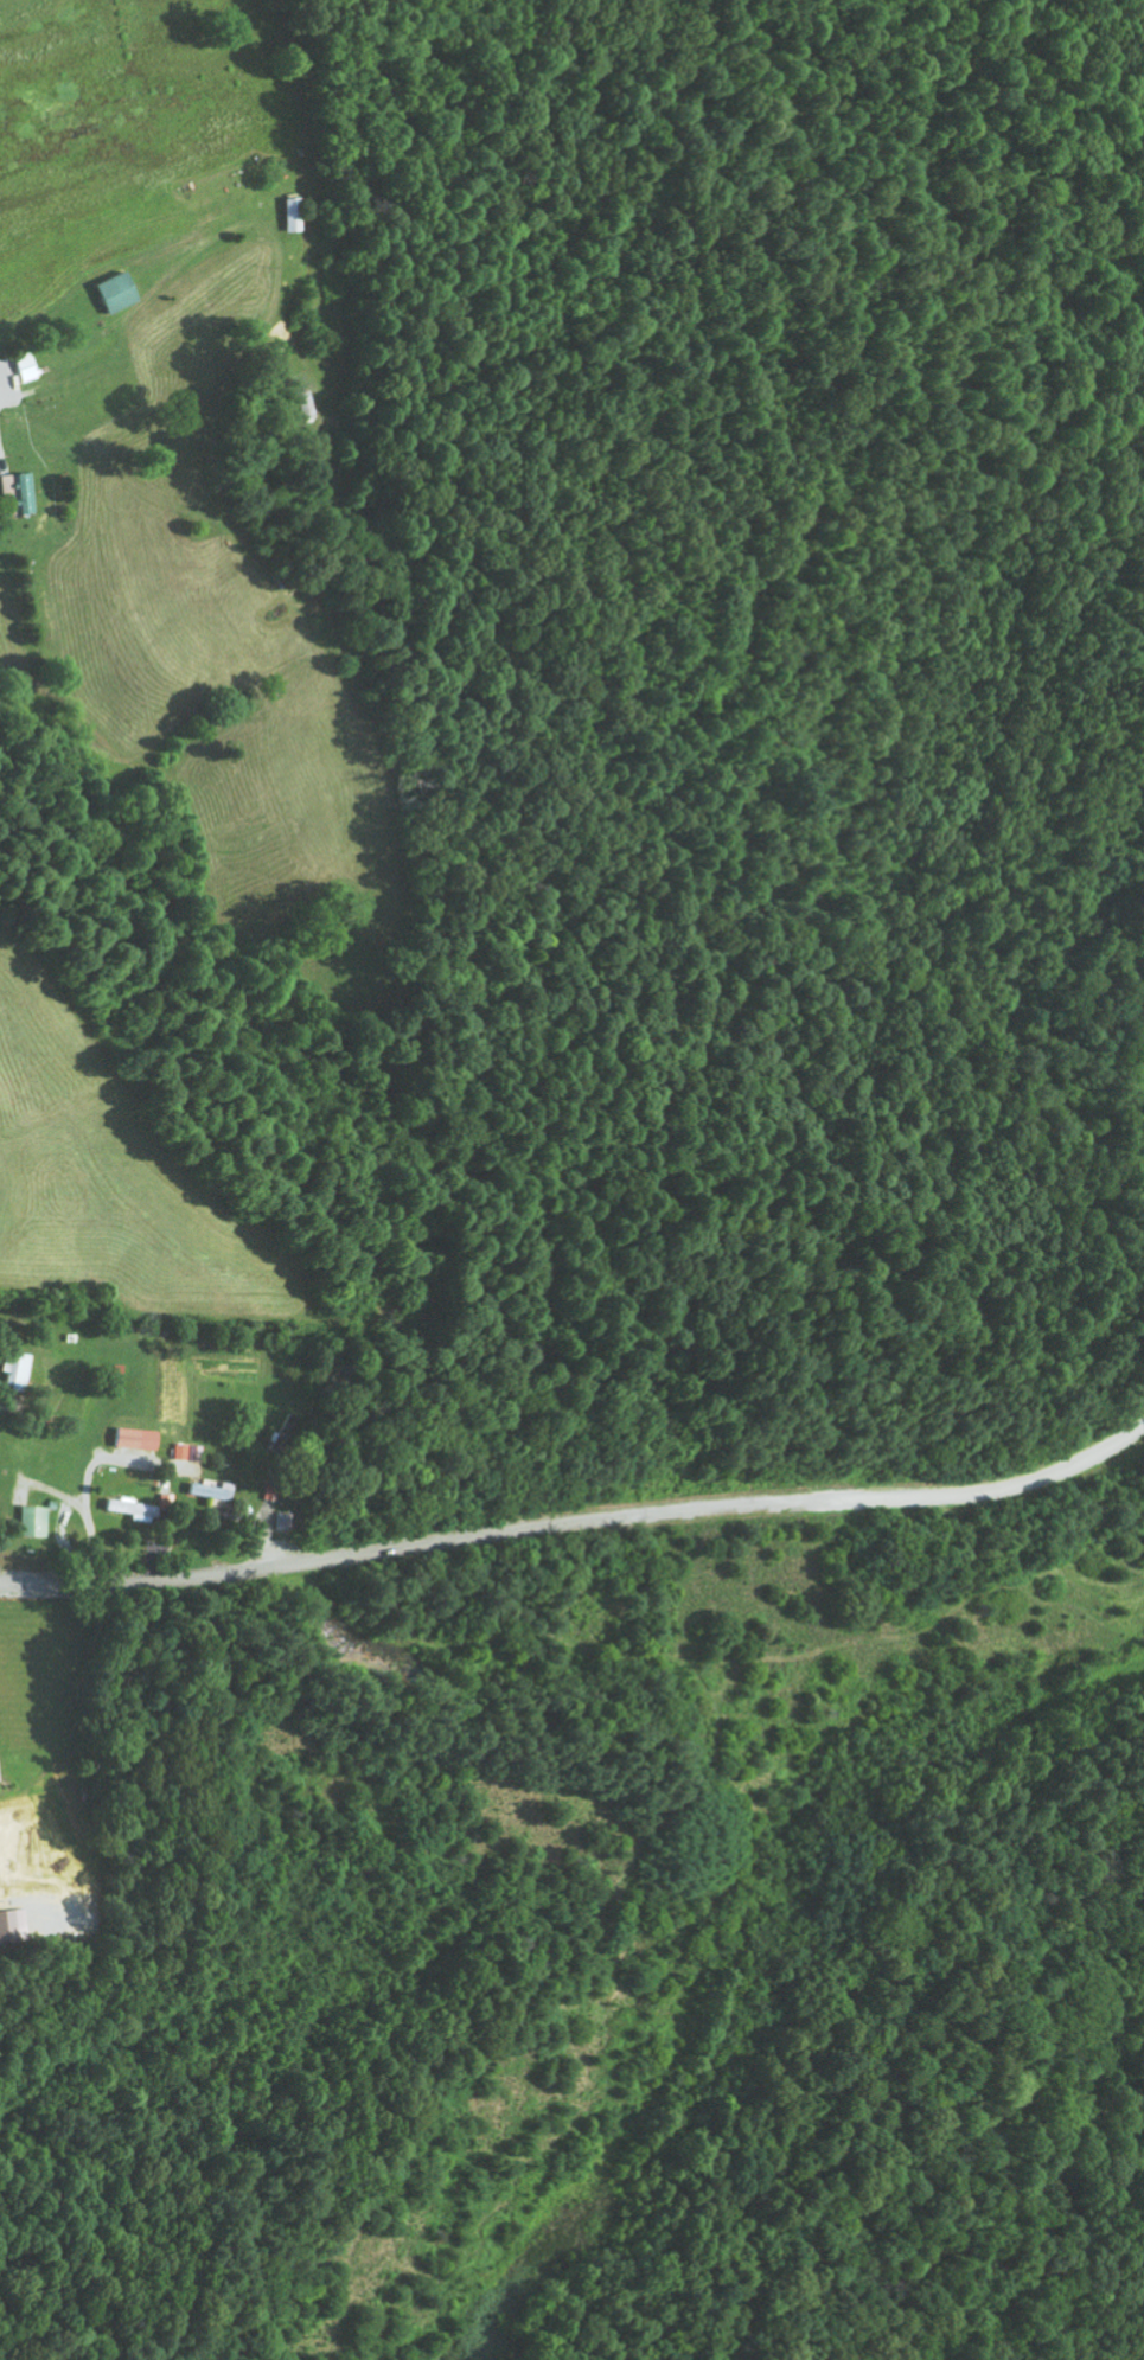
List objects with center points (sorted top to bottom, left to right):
building: (292, 215)
building: (116, 293)
building: (26, 367)
building: (24, 493)
building: (17, 1368)
building: (136, 1439)
building: (187, 1452)
building: (212, 1490)
building: (133, 1509)
building: (33, 1521)
road: (577, 1521)
building: (0, 1780)
building: (12, 1925)

